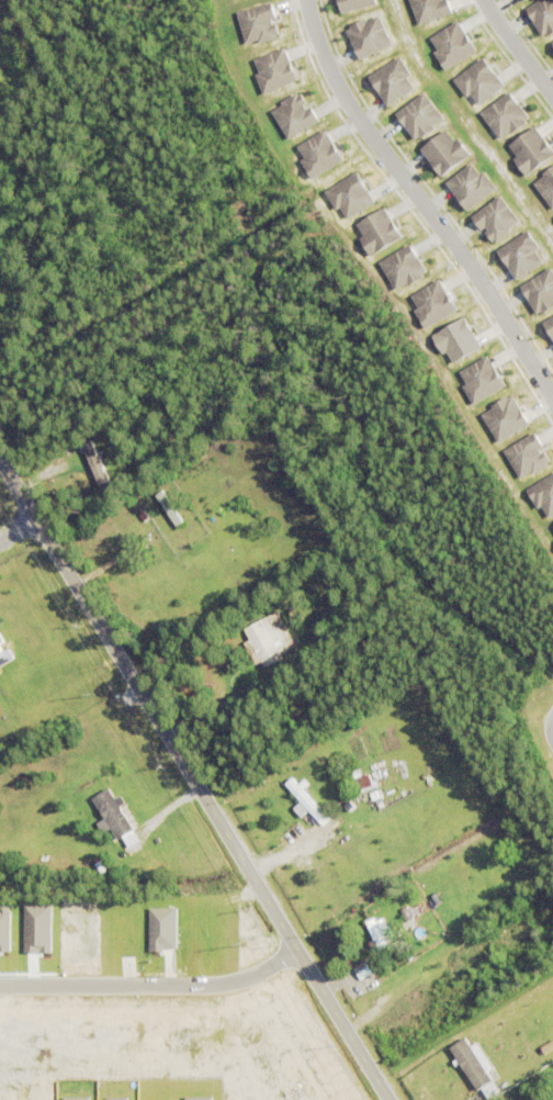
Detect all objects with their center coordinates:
building: (526, 0)
building: (354, 4)
building: (430, 9)
building: (543, 16)
building: (258, 23)
building: (369, 36)
building: (451, 44)
road: (516, 49)
building: (274, 70)
building: (392, 80)
building: (479, 81)
building: (294, 114)
building: (419, 115)
building: (505, 115)
building: (531, 149)
building: (444, 151)
building: (319, 153)
building: (471, 186)
building: (546, 188)
building: (350, 194)
road: (422, 203)
building: (496, 218)
building: (377, 231)
building: (520, 255)
building: (403, 267)
building: (539, 292)
building: (432, 303)
building: (551, 316)
building: (456, 340)
building: (481, 379)
building: (504, 418)
building: (93, 442)
building: (526, 456)
building: (94, 464)
building: (542, 495)
building: (170, 508)
building: (143, 516)
building: (552, 524)
road: (19, 534)
building: (1, 640)
building: (269, 640)
building: (324, 640)
building: (4, 656)
road: (552, 731)
road: (194, 778)
building: (362, 783)
building: (374, 796)
building: (304, 801)
building: (113, 815)
building: (413, 912)
building: (380, 934)
building: (362, 972)
road: (154, 986)
building: (472, 1063)

